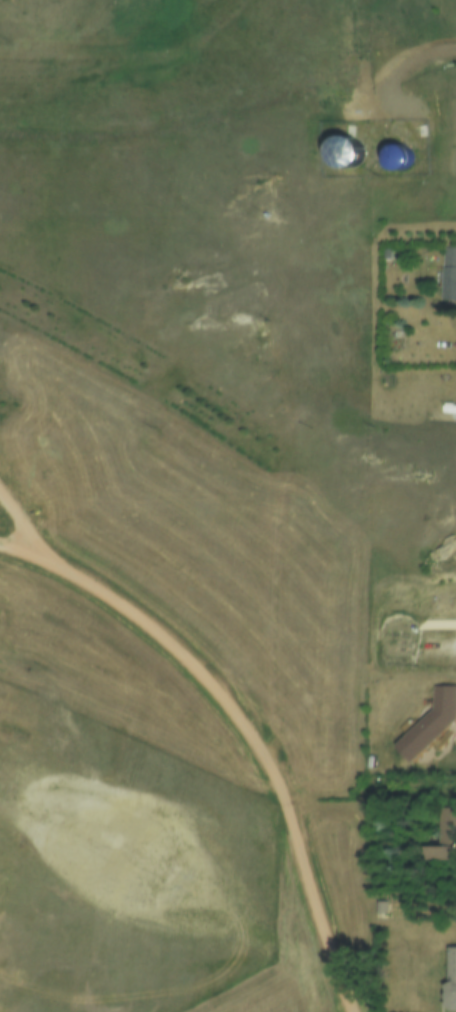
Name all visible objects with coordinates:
road: (410, 54)
building: (394, 155)
storage tank: (340, 159)
storage tank: (392, 167)
building: (447, 278)
building: (428, 722)
road: (237, 732)
building: (441, 836)
building: (387, 908)
building: (450, 979)
road: (303, 998)

